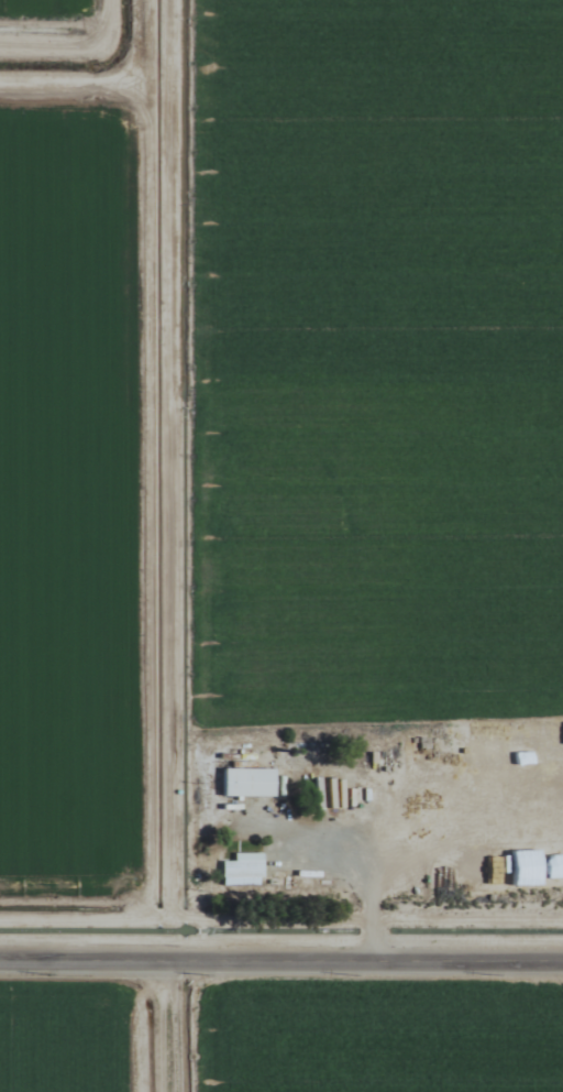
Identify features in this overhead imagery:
building: (245, 782)
building: (240, 870)
road: (281, 991)

